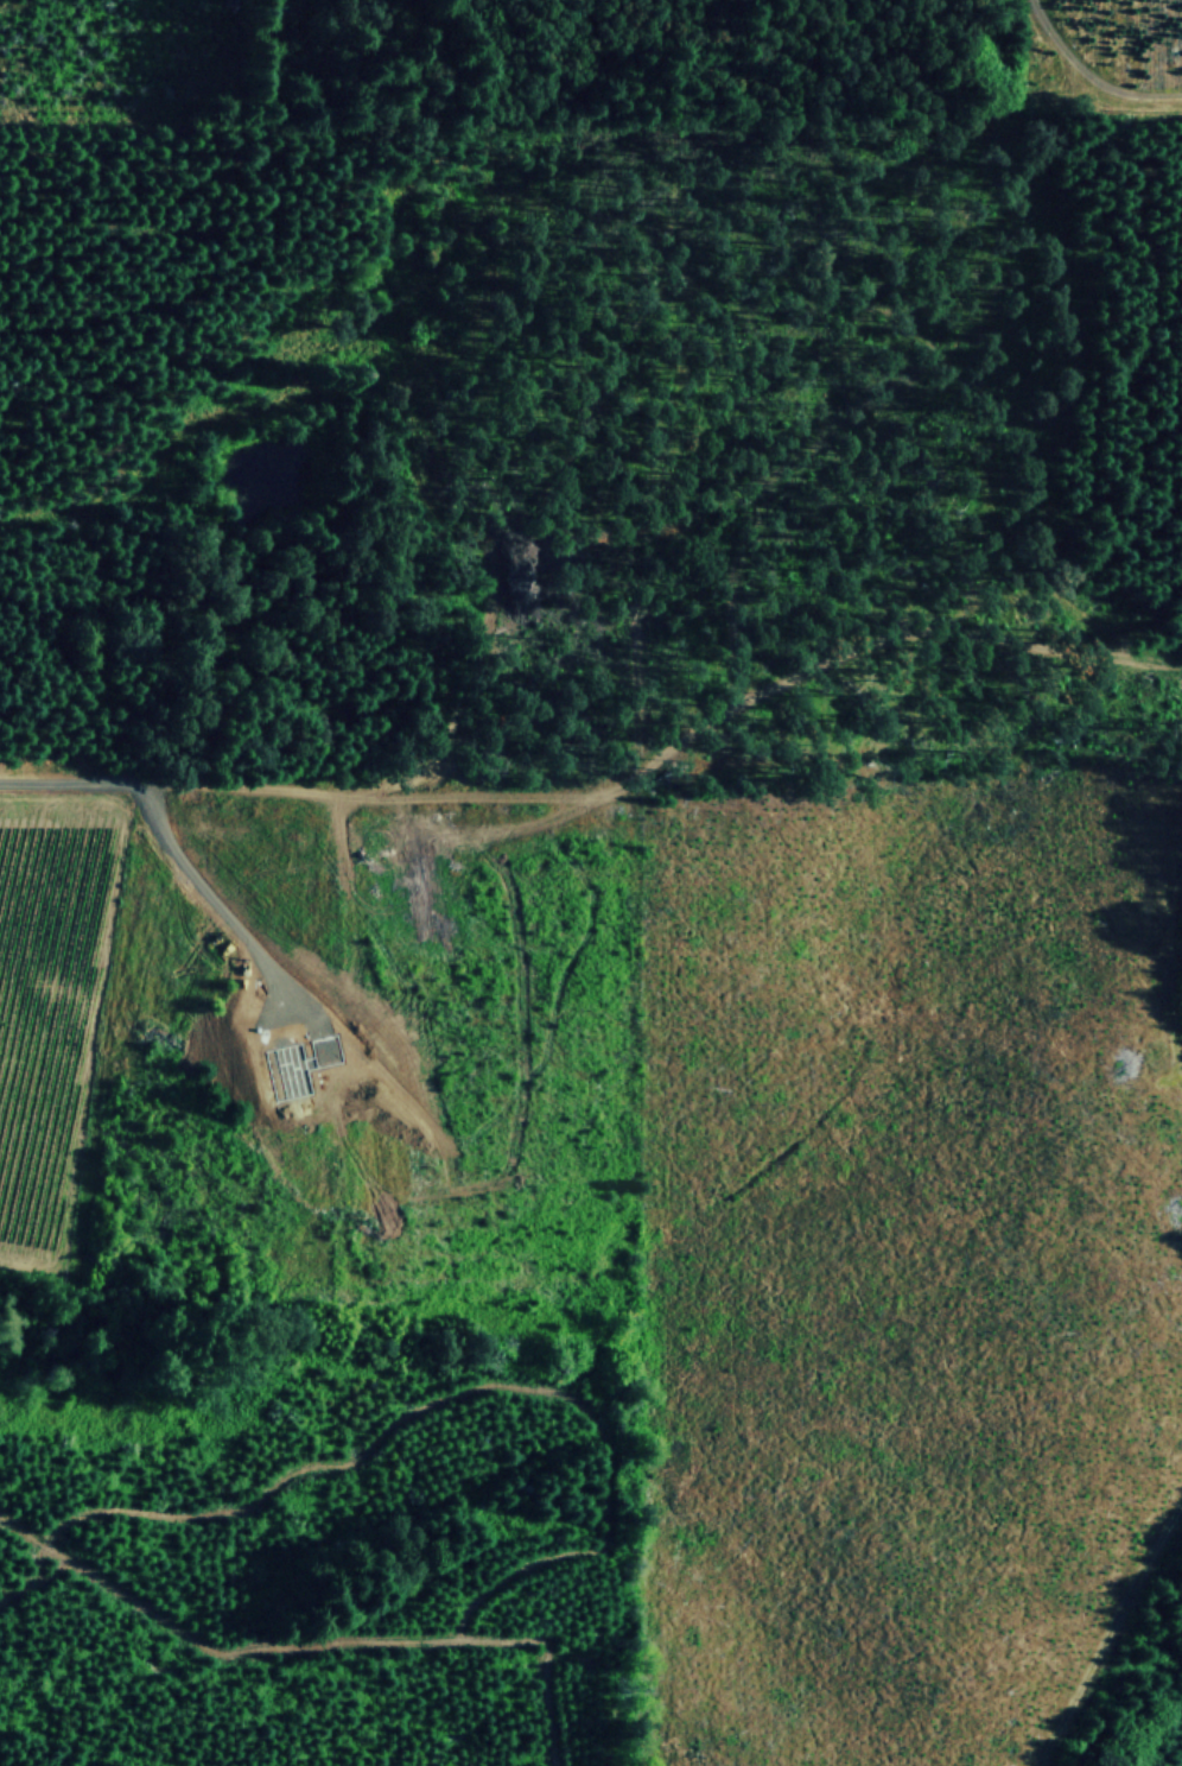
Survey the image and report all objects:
road: (1088, 75)

